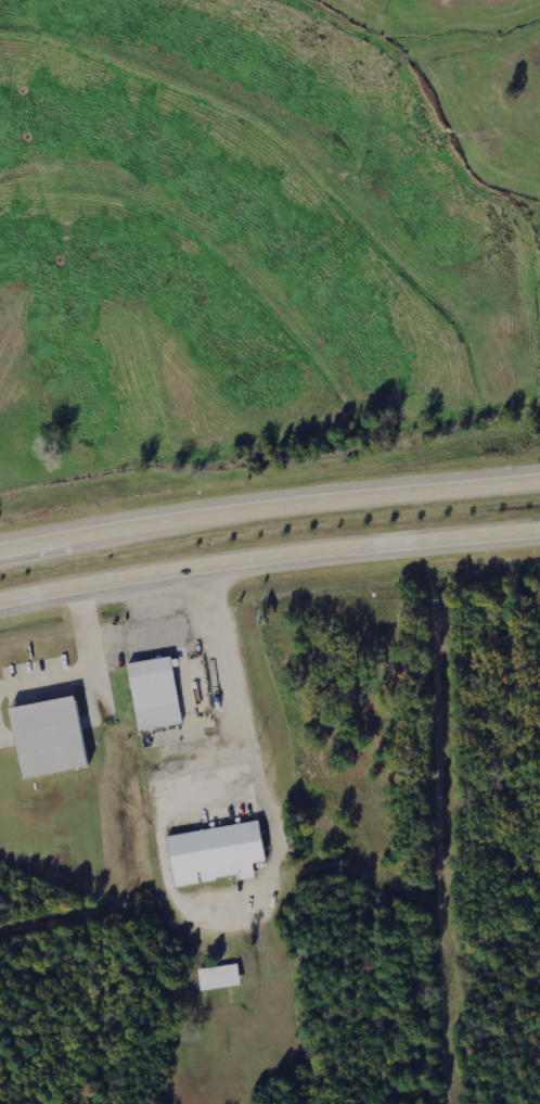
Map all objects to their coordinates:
road: (268, 494)
road: (268, 553)
building: (153, 695)
building: (48, 738)
building: (214, 854)
building: (219, 977)

